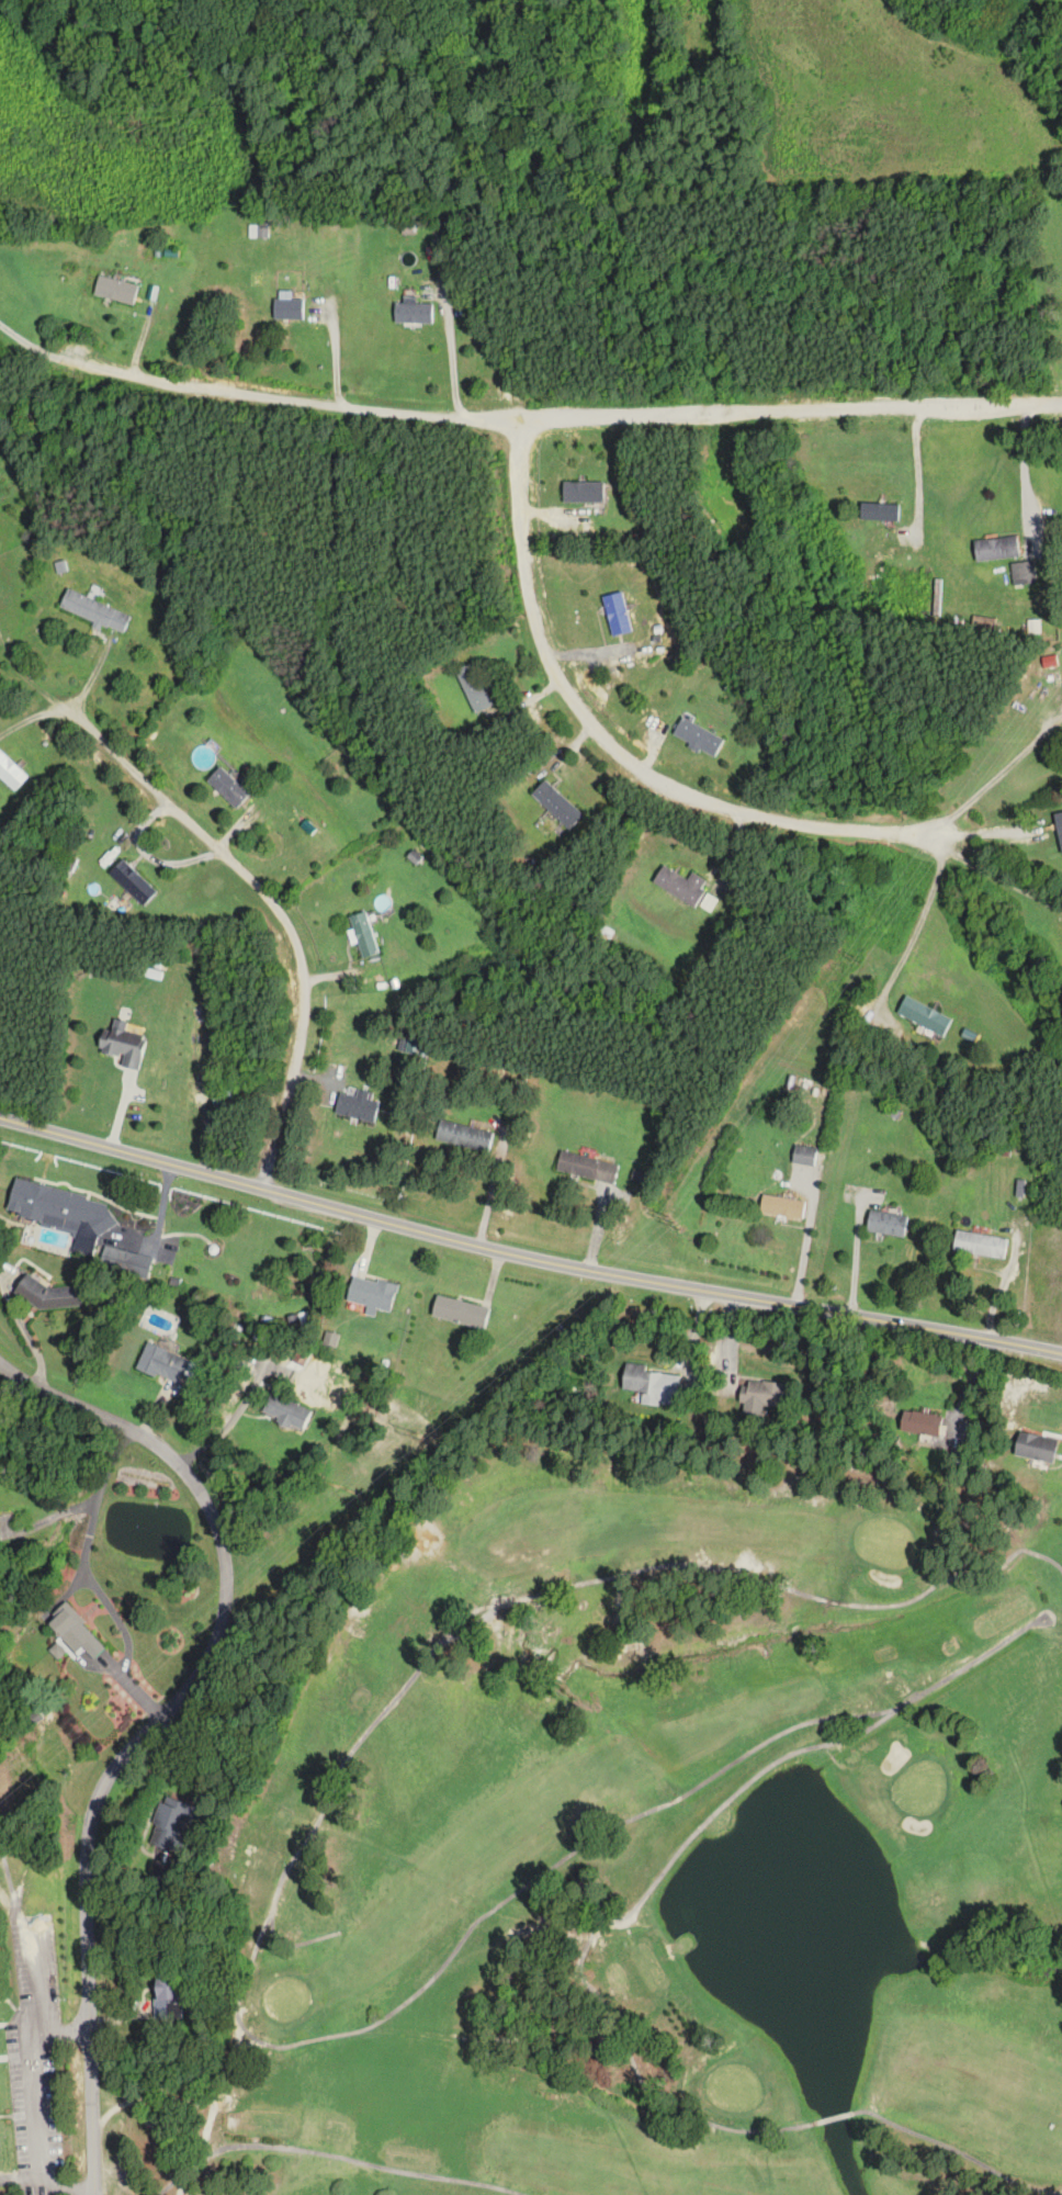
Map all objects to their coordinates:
building: (253, 233)
building: (114, 290)
building: (287, 307)
building: (413, 312)
road: (31, 339)
road: (448, 357)
road: (561, 421)
road: (1025, 465)
building: (583, 491)
building: (878, 511)
building: (996, 548)
building: (1023, 573)
building: (94, 610)
building: (615, 614)
building: (473, 687)
road: (34, 714)
building: (698, 736)
road: (621, 744)
road: (997, 770)
building: (11, 773)
building: (227, 787)
building: (556, 803)
road: (987, 825)
building: (1059, 828)
road: (995, 875)
building: (133, 881)
building: (680, 885)
road: (278, 912)
road: (922, 916)
building: (363, 934)
power tower: (855, 956)
building: (924, 1015)
building: (122, 1044)
building: (222, 1099)
building: (357, 1106)
building: (464, 1136)
building: (804, 1155)
building: (587, 1167)
road: (488, 1192)
building: (55, 1206)
building: (782, 1206)
power tower: (674, 1217)
building: (886, 1223)
building: (980, 1243)
road: (526, 1257)
road: (856, 1257)
building: (117, 1258)
building: (371, 1293)
building: (459, 1312)
building: (167, 1364)
building: (651, 1385)
building: (761, 1393)
building: (285, 1411)
road: (229, 1420)
building: (922, 1423)
power tower: (422, 1434)
building: (1035, 1448)
road: (48, 1520)
road: (91, 1581)
building: (75, 1633)
road: (156, 1720)
building: (172, 1826)
park: (613, 1856)
building: (167, 1997)
road: (64, 2026)
road: (38, 2052)
road: (47, 2180)

